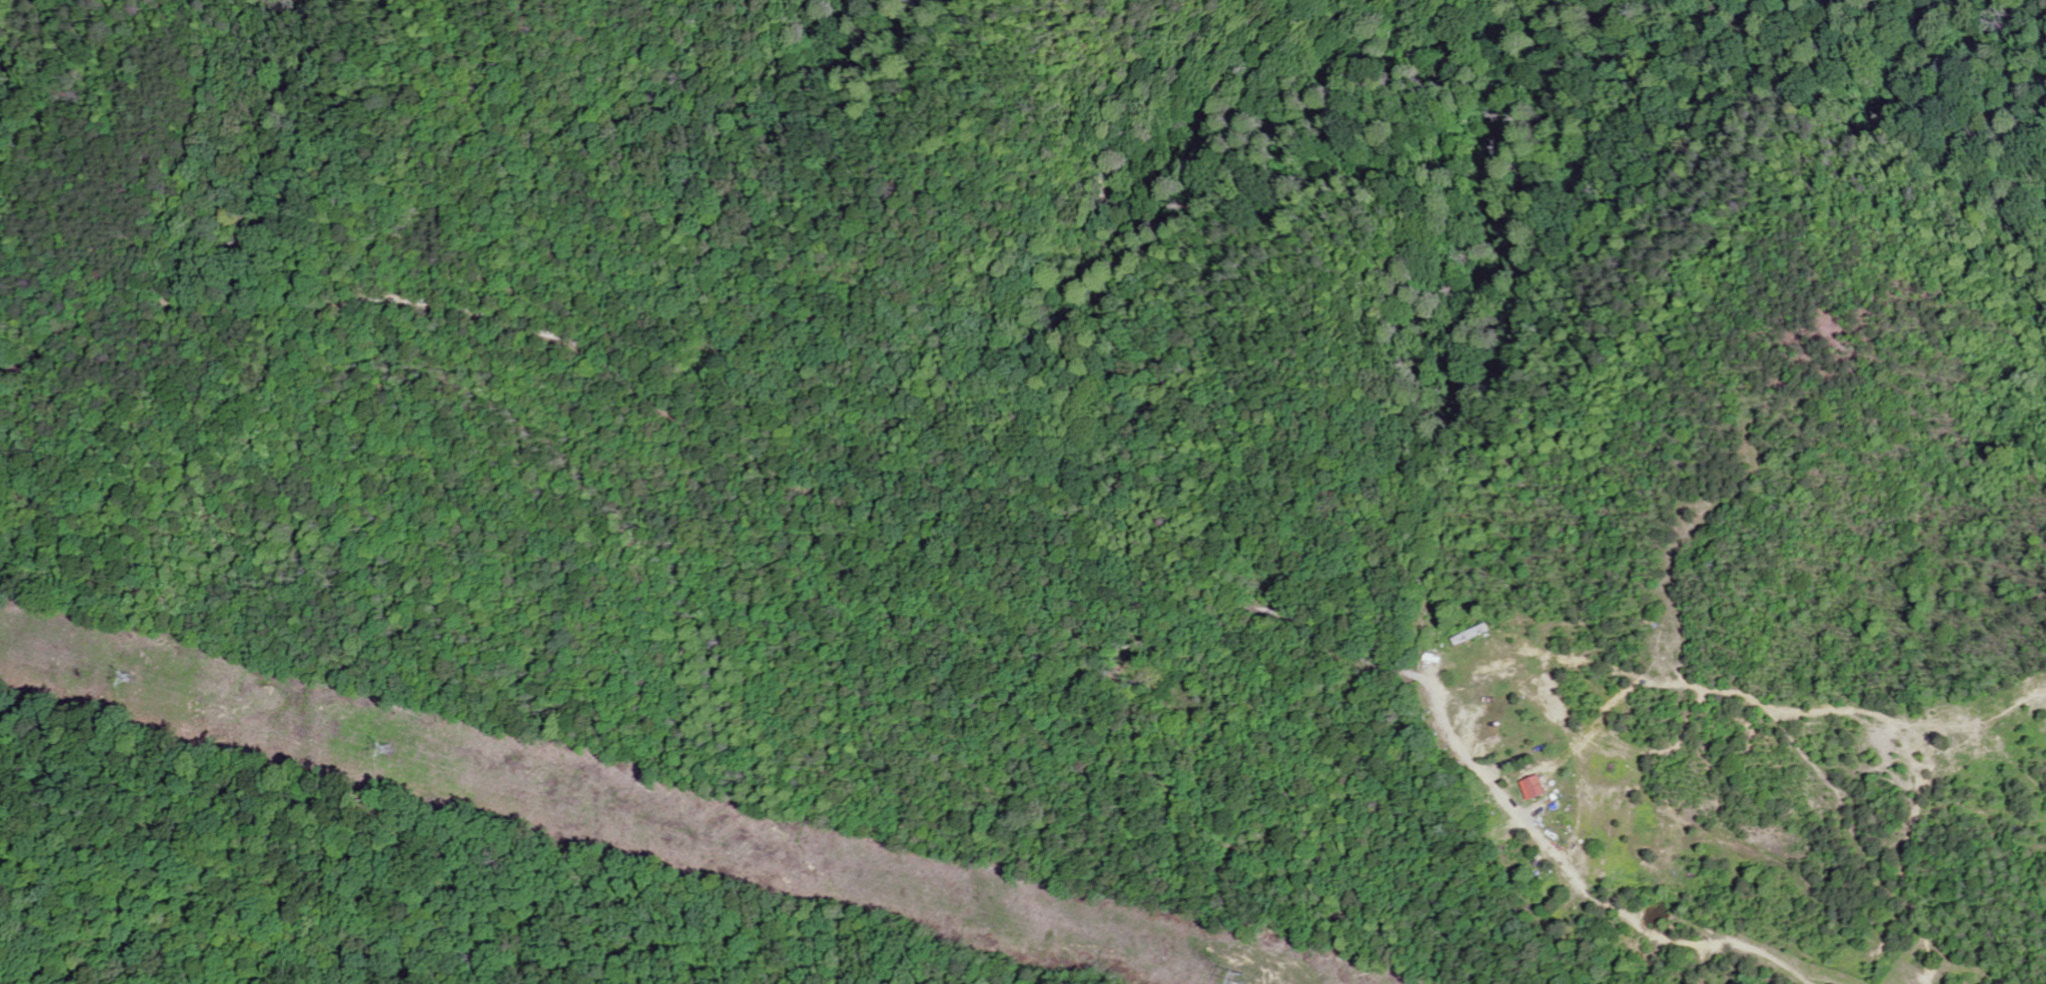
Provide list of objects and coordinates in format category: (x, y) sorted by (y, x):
road: (502, 321)
road: (1434, 691)
building: (1538, 788)

